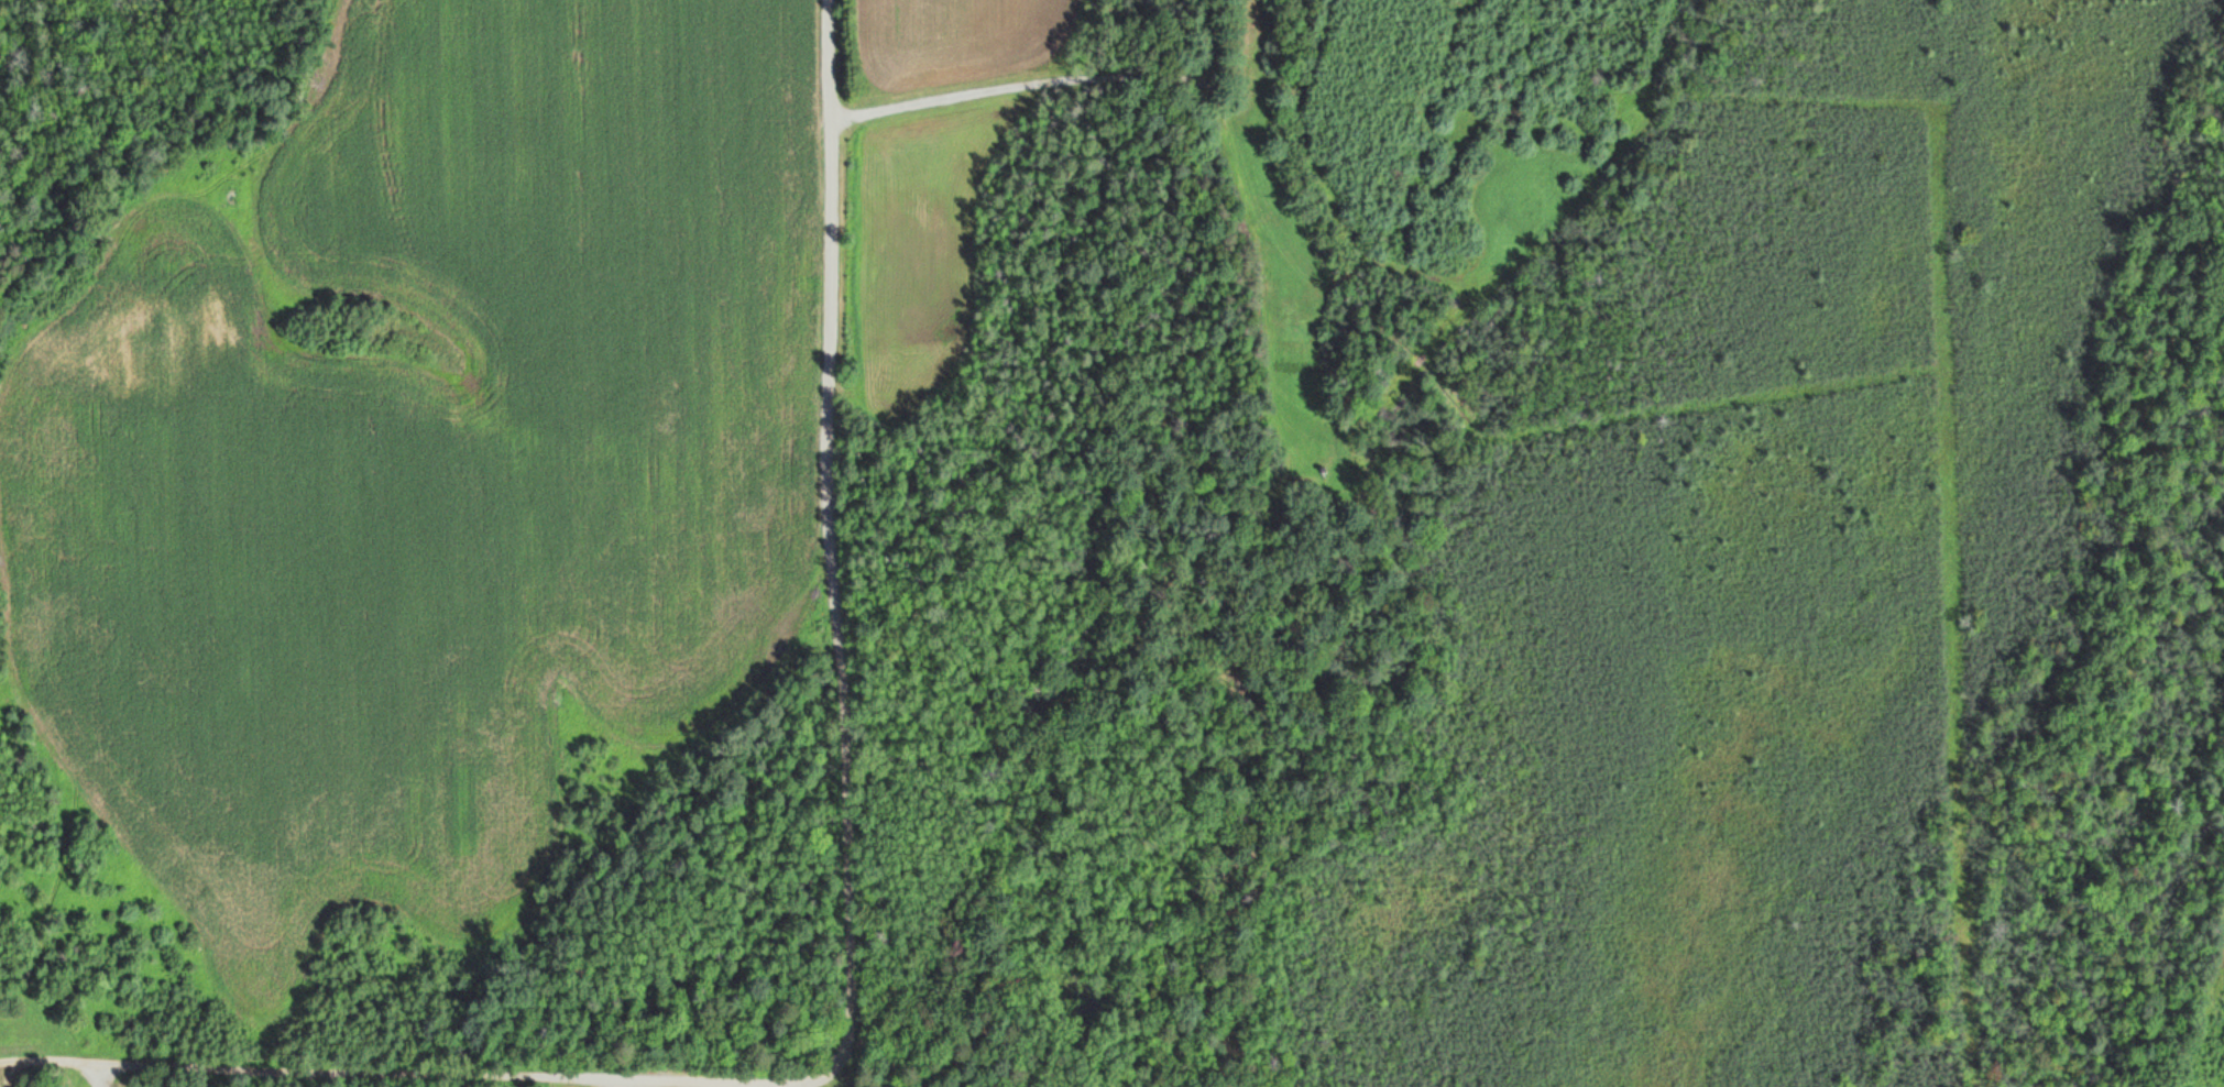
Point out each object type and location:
road: (843, 954)

